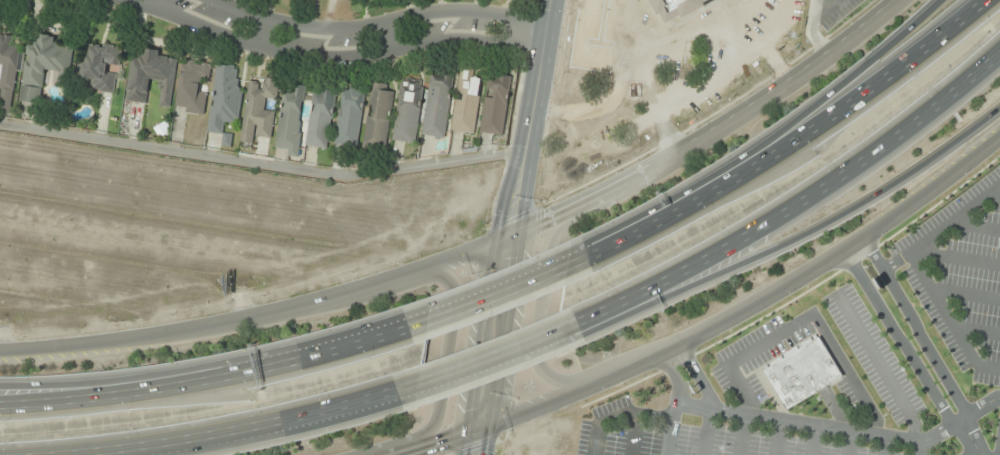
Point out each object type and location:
building: (755, 6)
road: (825, 9)
parking lot: (834, 12)
road: (375, 22)
road: (777, 28)
road: (809, 32)
road: (268, 34)
parking lot: (594, 36)
building: (635, 37)
road: (693, 39)
road: (578, 46)
road: (327, 58)
parking lot: (713, 60)
road: (619, 63)
building: (101, 66)
building: (44, 67)
road: (776, 70)
building: (7, 73)
road: (856, 76)
building: (150, 77)
building: (192, 87)
road: (699, 91)
building: (224, 101)
building: (466, 102)
building: (437, 106)
building: (495, 106)
building: (258, 110)
building: (408, 111)
road: (584, 115)
building: (378, 116)
building: (349, 117)
building: (320, 118)
building: (290, 119)
road: (788, 142)
road: (261, 163)
road: (994, 194)
road: (799, 202)
road: (513, 215)
road: (975, 226)
road: (942, 228)
traffic signals: (510, 239)
road: (802, 242)
road: (481, 249)
road: (958, 258)
road: (492, 294)
road: (965, 294)
road: (543, 310)
road: (948, 318)
road: (806, 319)
road: (716, 324)
road: (917, 330)
road: (977, 332)
road: (899, 339)
road: (546, 345)
road: (448, 356)
road: (489, 357)
road: (879, 367)
road: (190, 369)
building: (799, 372)
road: (697, 374)
road: (674, 376)
road: (209, 383)
road: (619, 413)
road: (673, 429)
road: (843, 429)
traffic signals: (479, 430)
road: (235, 431)
road: (478, 431)
road: (705, 432)
road: (632, 434)
road: (741, 434)
road: (776, 437)
road: (811, 440)
road: (973, 442)
road: (849, 443)
road: (998, 444)
road: (884, 446)
road: (162, 447)
road: (919, 447)
road: (976, 453)

